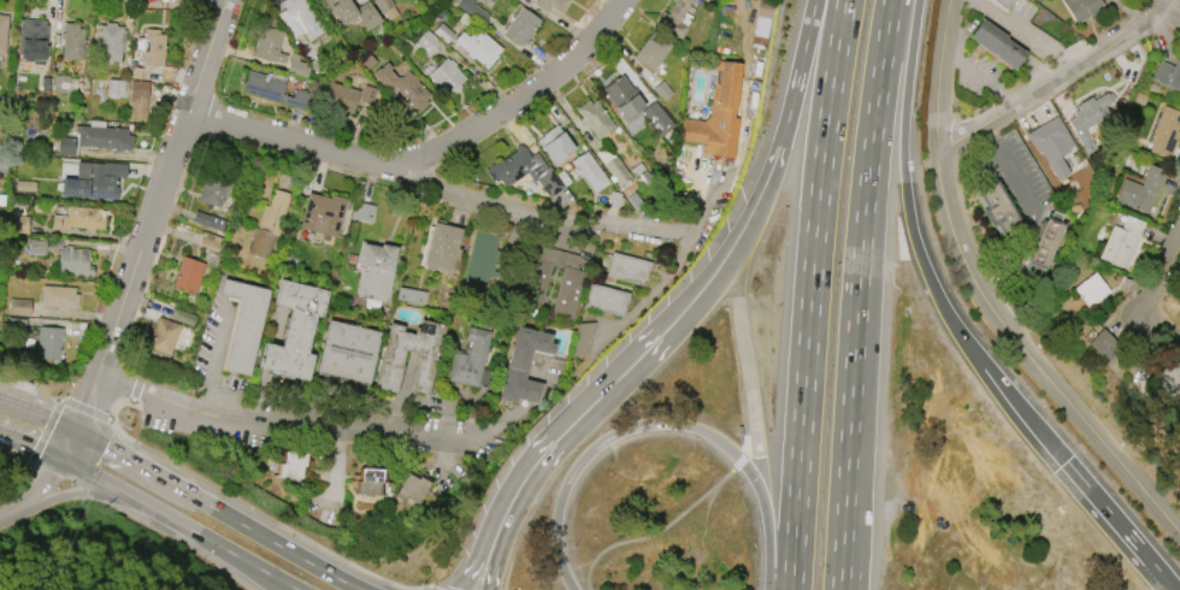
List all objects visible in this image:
building: (1003, 4)
building: (549, 5)
building: (1081, 8)
road: (1173, 8)
building: (473, 11)
building: (350, 12)
building: (674, 18)
building: (299, 19)
building: (520, 26)
building: (33, 33)
building: (442, 33)
building: (2, 34)
road: (806, 40)
building: (72, 42)
building: (110, 42)
building: (424, 43)
building: (995, 43)
building: (267, 45)
building: (152, 47)
building: (478, 47)
building: (651, 51)
building: (297, 66)
building: (1168, 75)
building: (446, 76)
road: (1054, 81)
building: (65, 85)
building: (402, 87)
building: (116, 88)
building: (275, 89)
building: (661, 90)
building: (347, 96)
building: (621, 98)
building: (138, 101)
building: (716, 113)
building: (594, 118)
building: (656, 118)
building: (1088, 120)
building: (1166, 134)
building: (104, 137)
building: (554, 144)
building: (1051, 144)
building: (65, 146)
road: (775, 159)
road: (427, 161)
building: (613, 165)
building: (524, 171)
building: (589, 171)
road: (1010, 173)
building: (94, 182)
road: (160, 185)
building: (213, 188)
building: (1140, 190)
building: (998, 211)
building: (362, 212)
road: (863, 212)
building: (321, 214)
road: (544, 217)
building: (78, 218)
building: (207, 222)
building: (19, 225)
building: (267, 225)
building: (1044, 241)
building: (210, 242)
building: (1121, 242)
building: (37, 247)
building: (441, 247)
road: (1173, 248)
building: (75, 261)
building: (480, 261)
building: (629, 269)
building: (374, 271)
building: (188, 275)
building: (570, 288)
building: (1092, 289)
road: (809, 294)
building: (411, 295)
road: (698, 295)
building: (59, 297)
road: (983, 299)
building: (606, 300)
building: (19, 306)
building: (184, 318)
building: (243, 324)
building: (17, 328)
road: (958, 328)
building: (291, 331)
building: (163, 336)
building: (582, 338)
building: (48, 342)
building: (1103, 346)
building: (347, 352)
road: (216, 358)
building: (390, 359)
building: (471, 361)
building: (523, 365)
road: (745, 370)
building: (1170, 378)
road: (0, 400)
road: (126, 400)
road: (87, 402)
road: (25, 409)
road: (87, 409)
road: (61, 424)
road: (270, 426)
traffic signals: (73, 430)
road: (619, 431)
road: (42, 437)
road: (16, 441)
road: (65, 443)
road: (45, 452)
road: (541, 456)
traffic signals: (58, 458)
building: (291, 464)
road: (142, 467)
road: (87, 471)
building: (368, 482)
road: (39, 486)
building: (412, 488)
road: (63, 492)
road: (843, 508)
road: (849, 508)
road: (7, 514)
road: (267, 514)
road: (169, 517)
road: (662, 526)
road: (768, 548)
road: (282, 549)
road: (248, 568)
road: (258, 570)
road: (435, 589)

